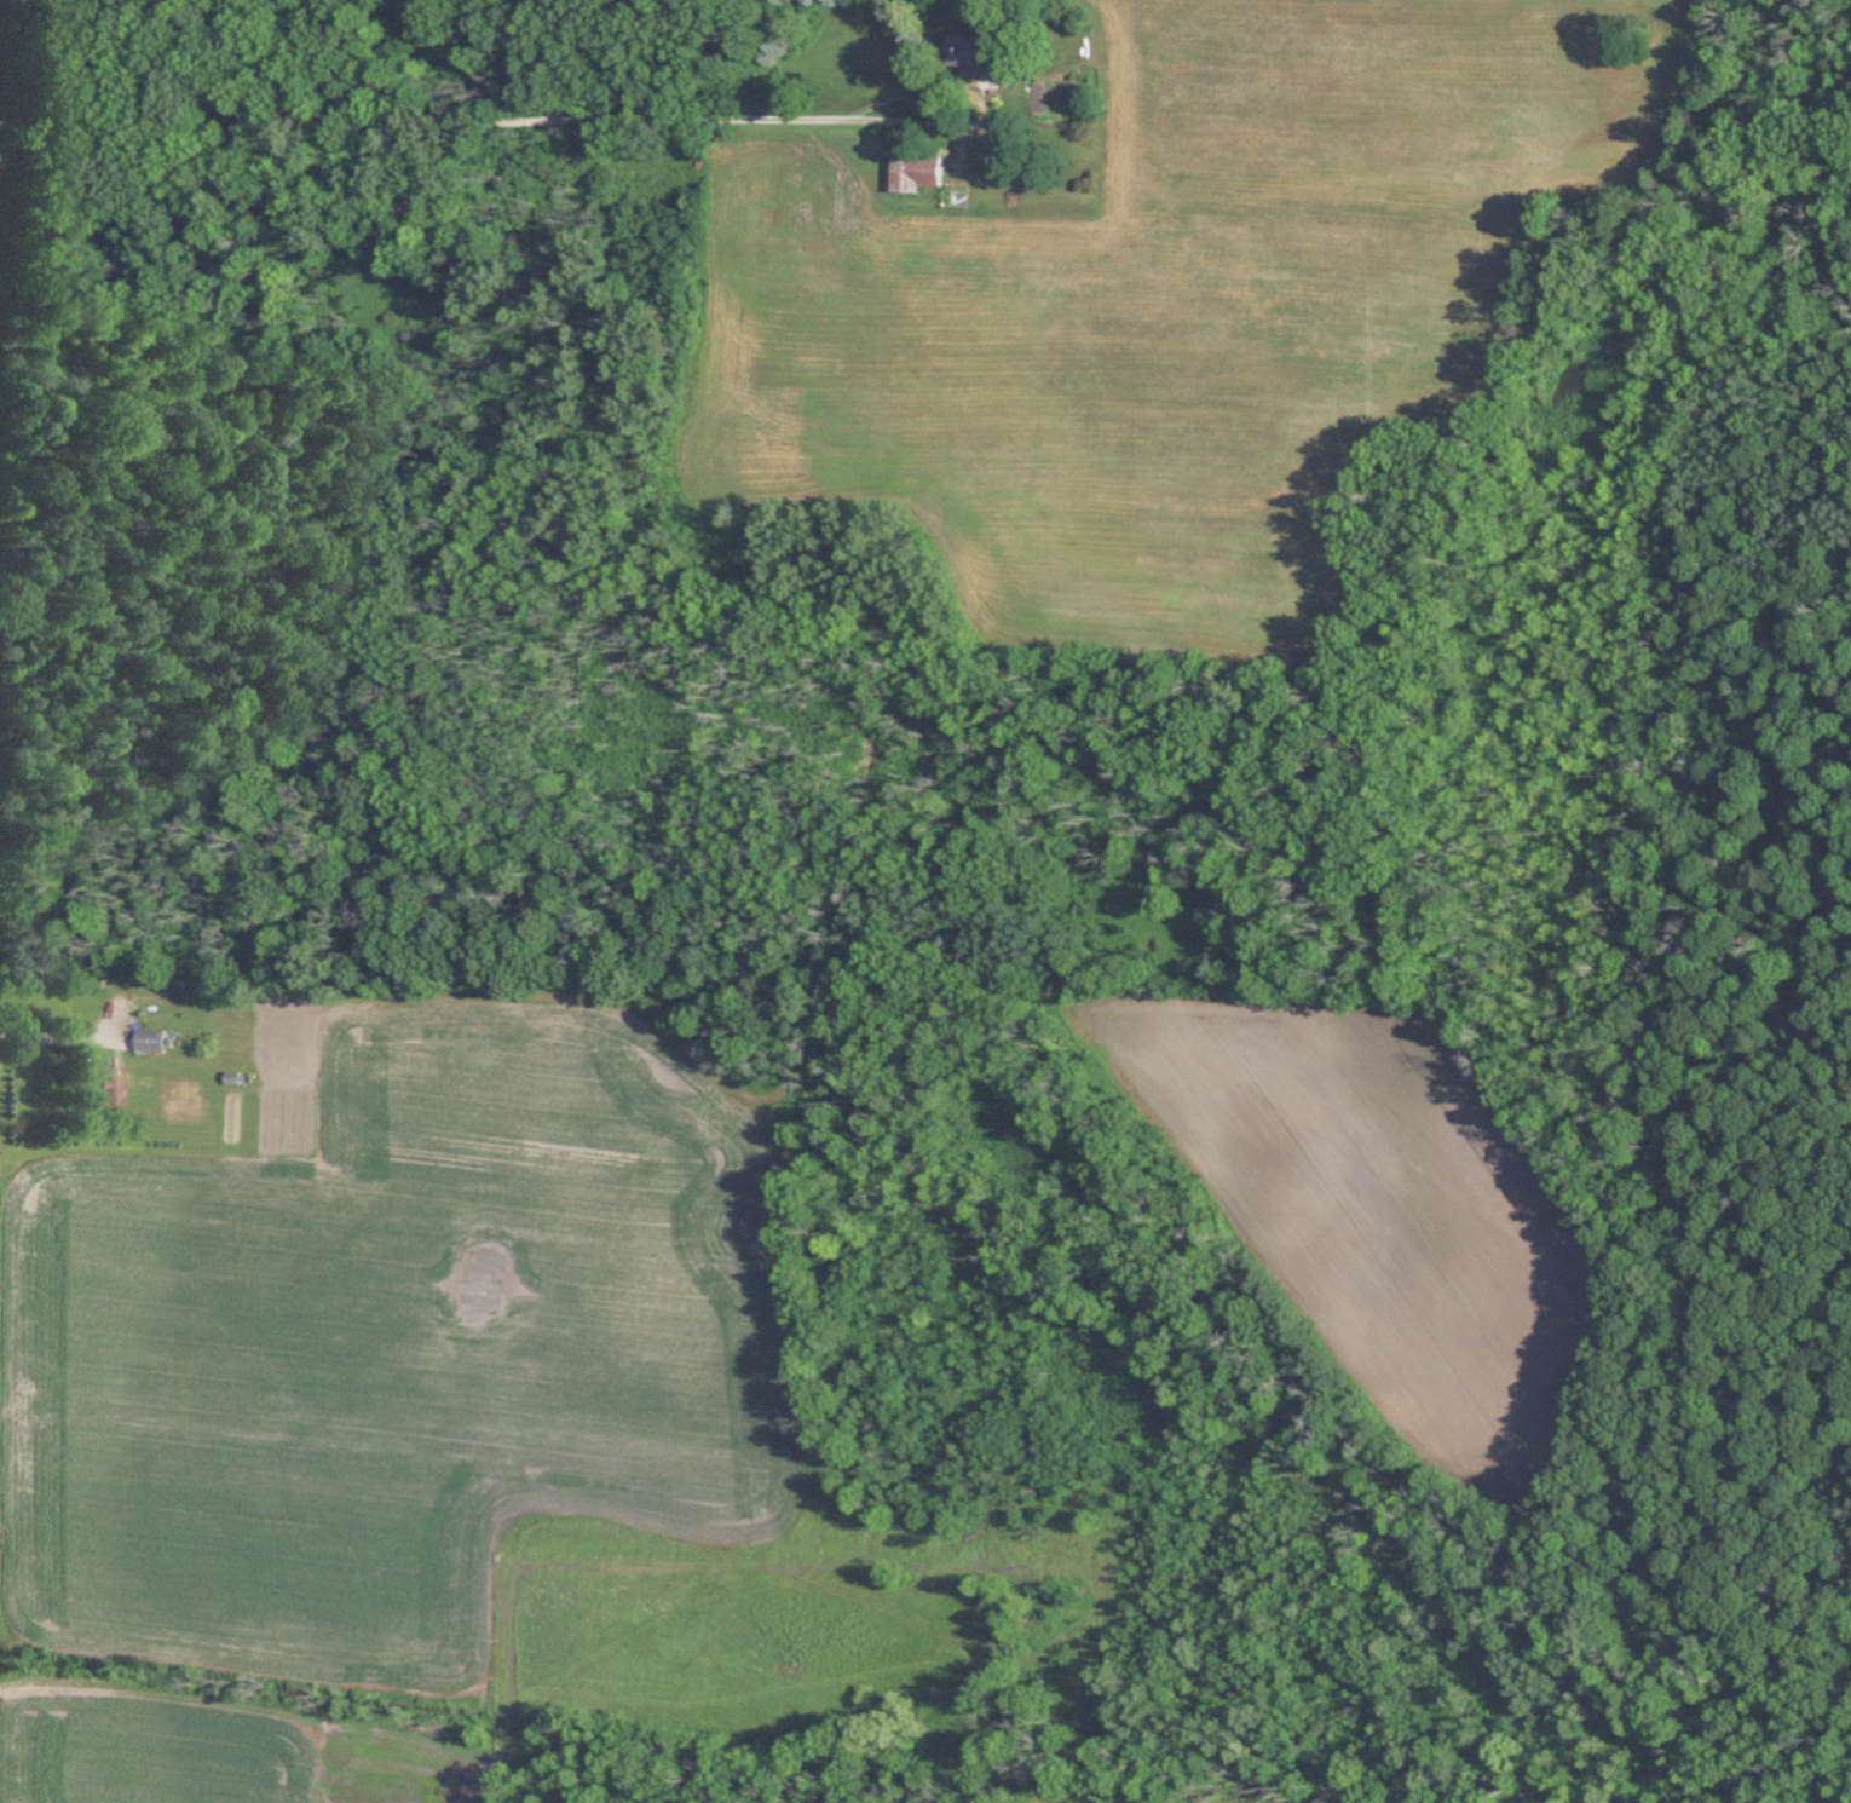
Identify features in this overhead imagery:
building: (967, 53)
road: (446, 120)
building: (905, 175)
road: (58, 1036)
building: (151, 1039)
building: (104, 1084)

